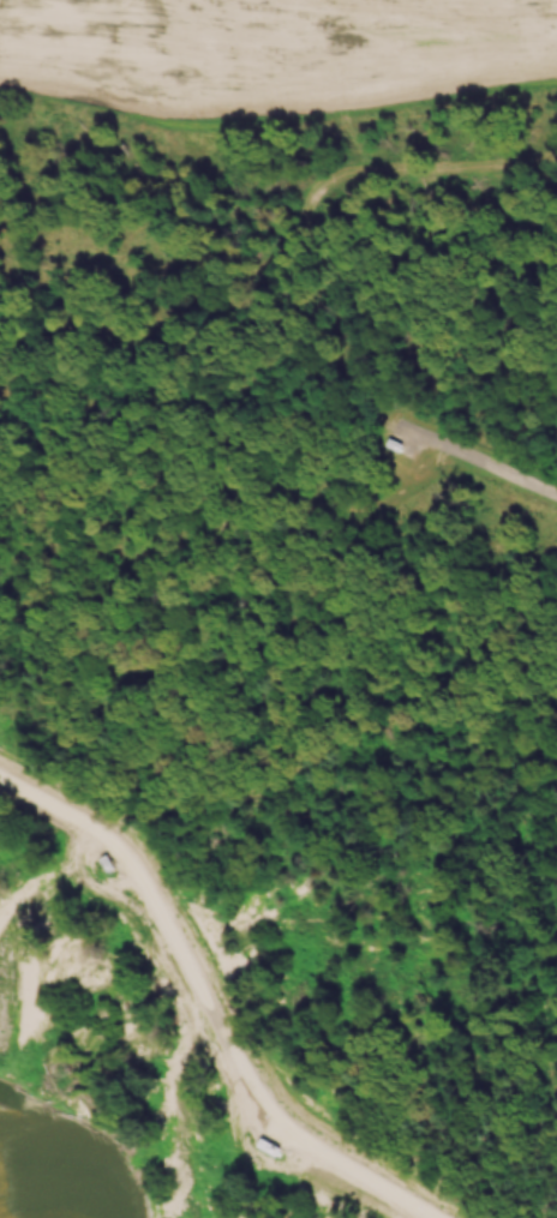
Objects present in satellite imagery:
road: (478, 464)
road: (208, 1007)
building: (265, 1147)

